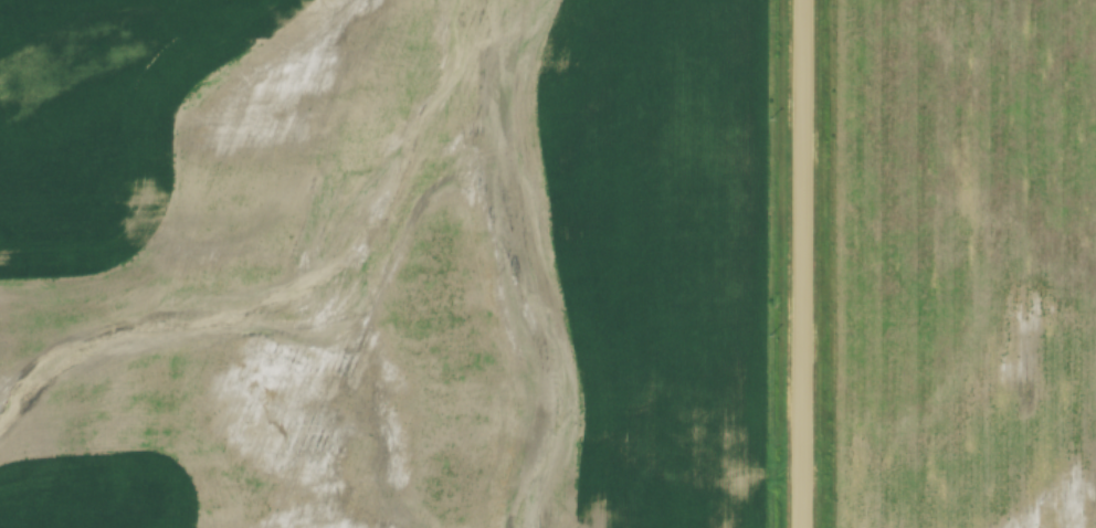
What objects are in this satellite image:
road: (803, 264)

